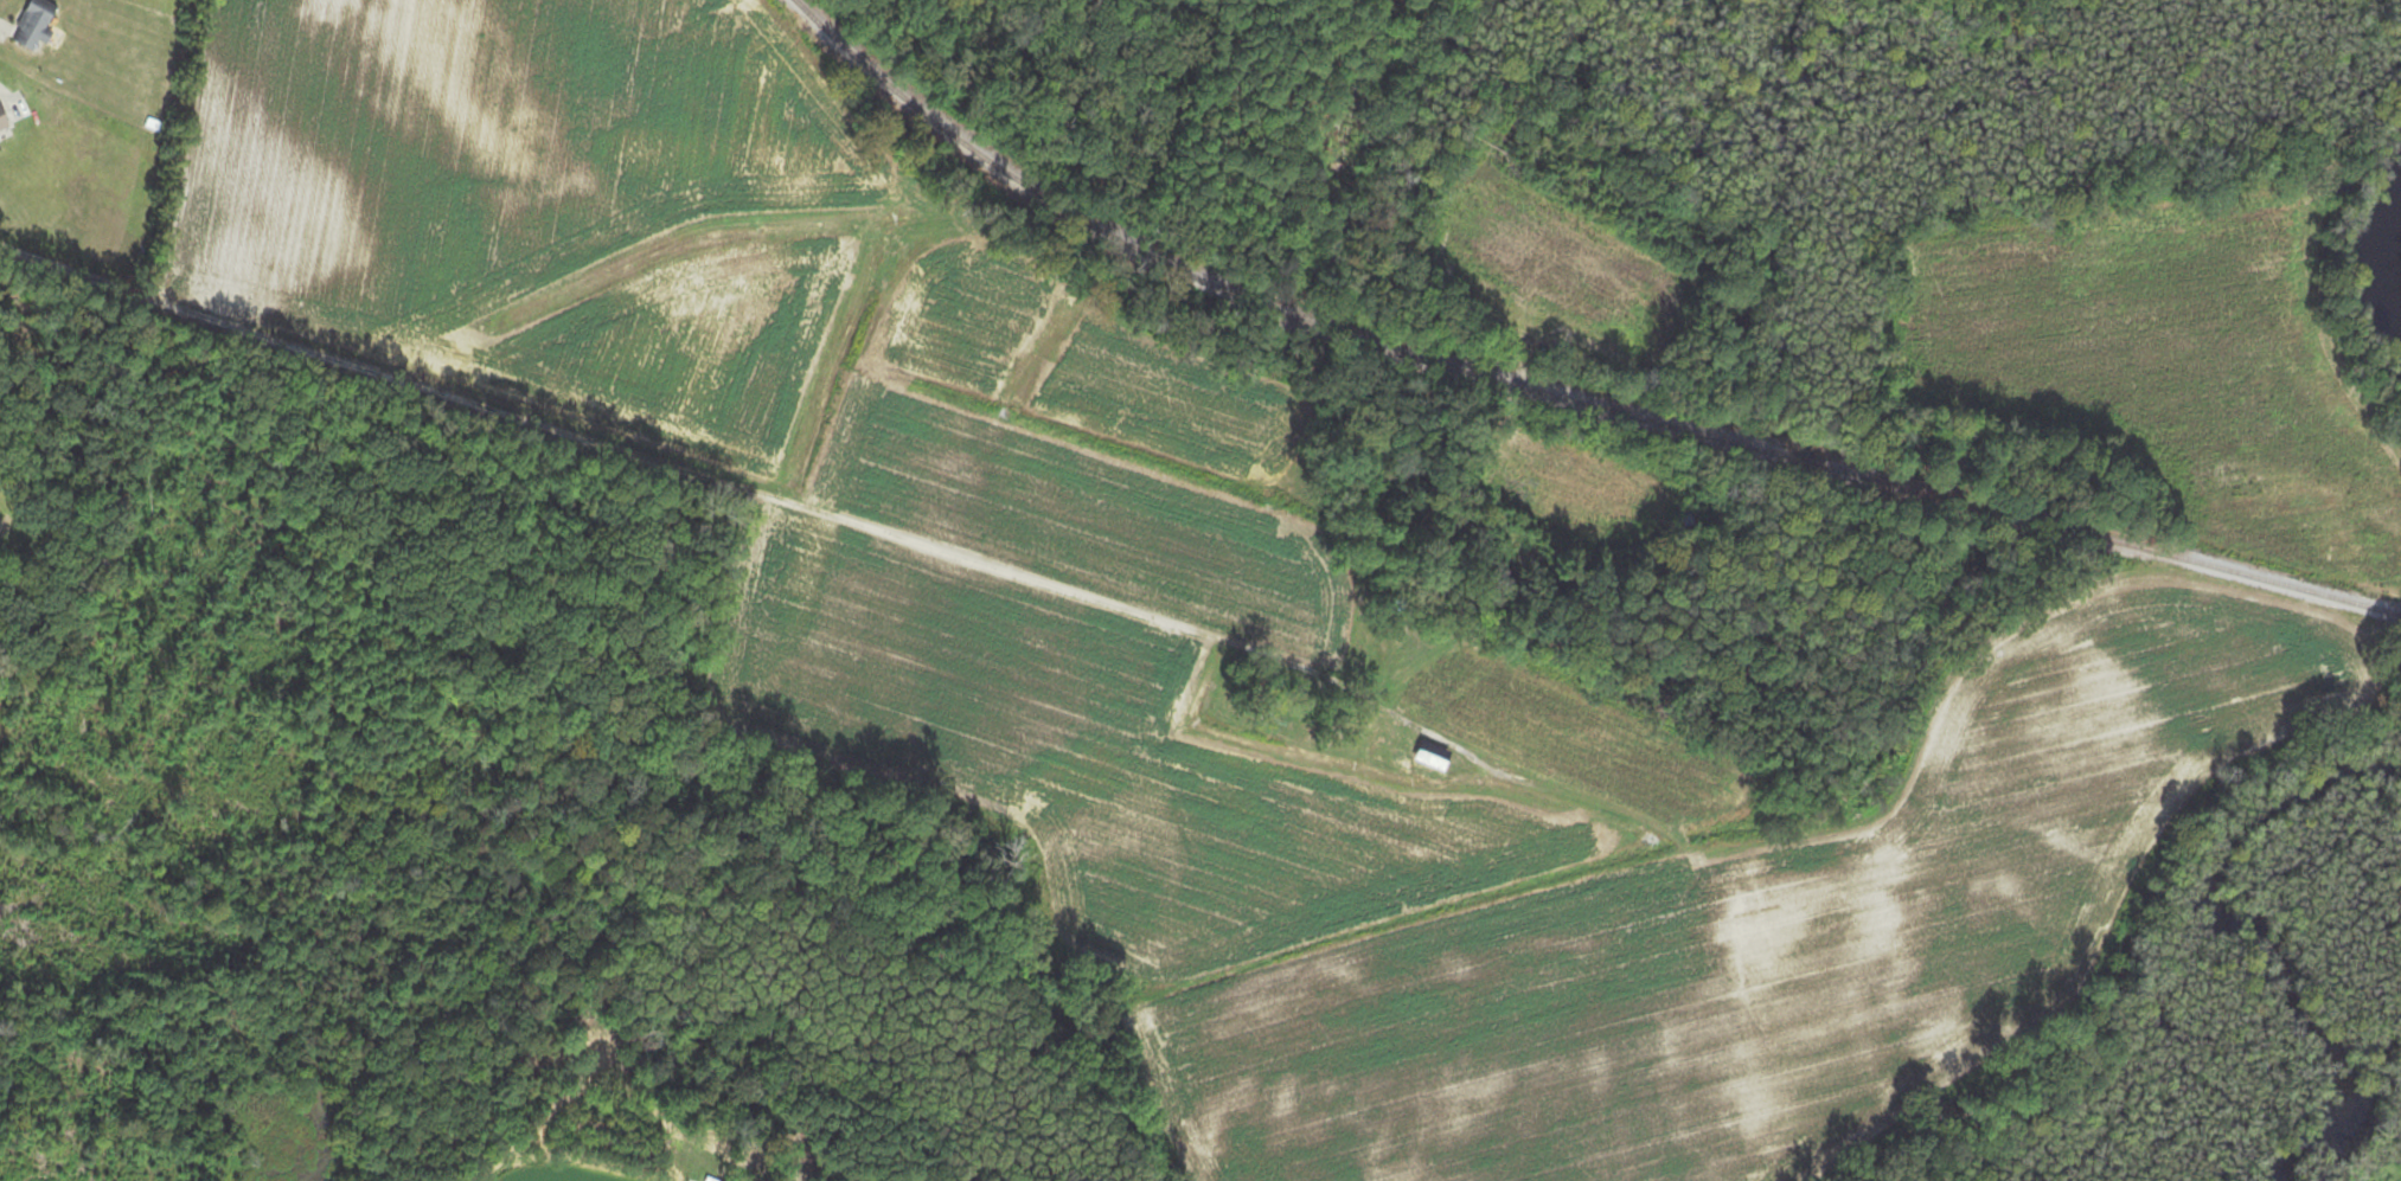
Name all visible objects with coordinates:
building: (36, 25)
railway: (1556, 396)
road: (687, 471)

